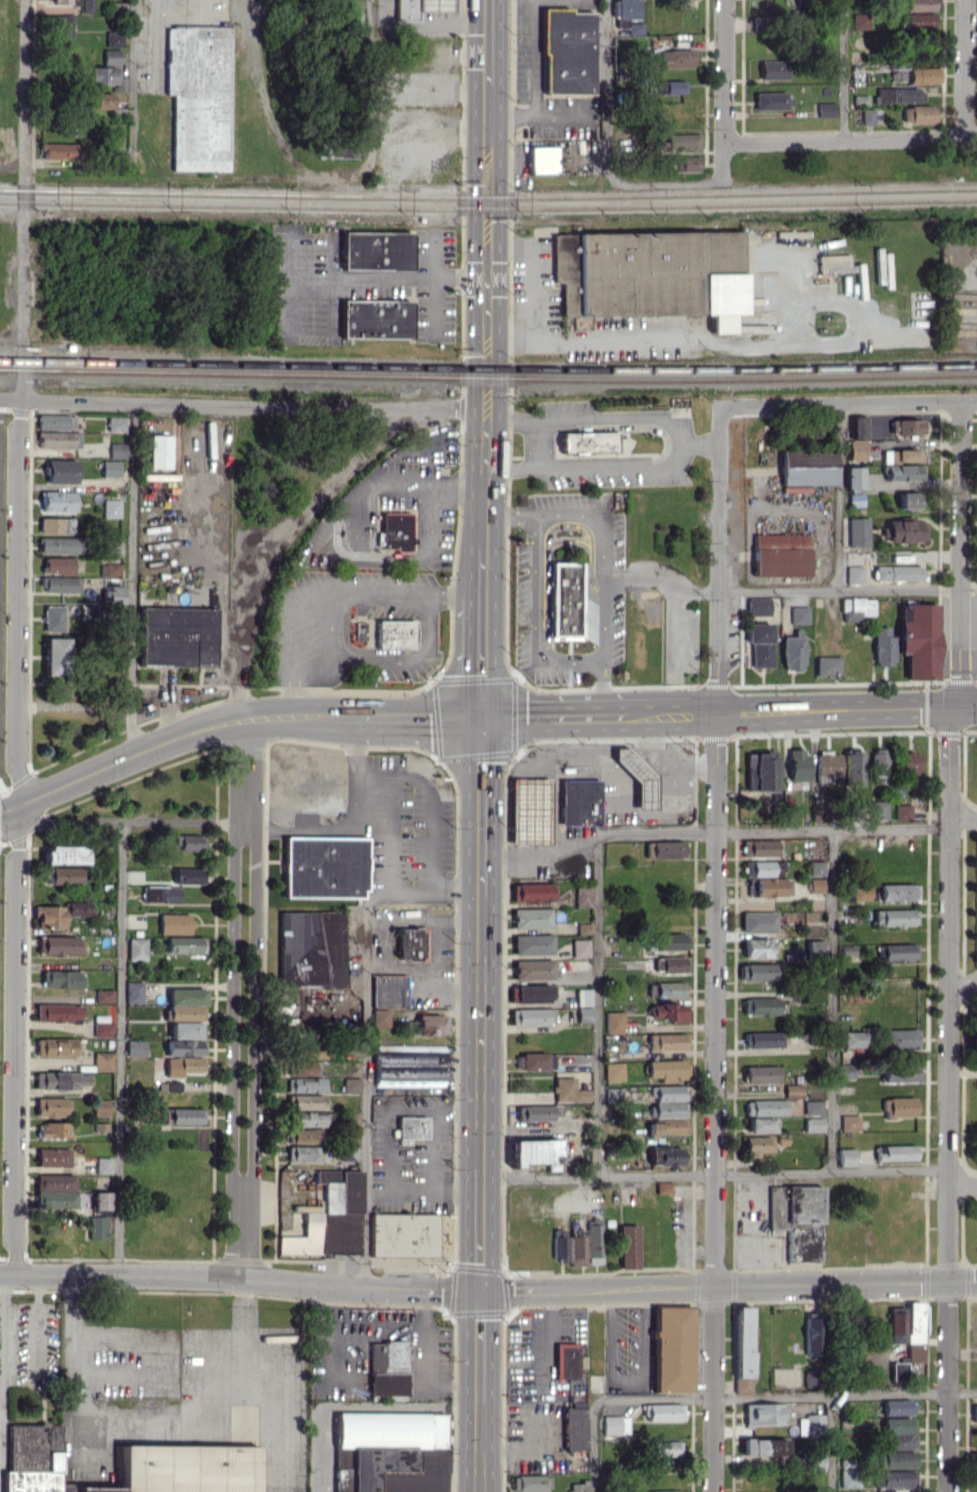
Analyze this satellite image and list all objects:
building: (63, 1)
building: (921, 5)
building: (421, 8)
building: (626, 9)
building: (921, 20)
building: (861, 21)
road: (426, 28)
building: (63, 31)
road: (490, 33)
building: (116, 39)
building: (569, 52)
building: (114, 57)
road: (536, 57)
building: (677, 58)
road: (968, 68)
building: (774, 69)
road: (846, 69)
building: (899, 74)
building: (105, 75)
building: (925, 75)
road: (135, 80)
building: (672, 87)
road: (728, 87)
building: (900, 95)
building: (201, 96)
building: (772, 100)
building: (103, 101)
building: (827, 109)
building: (921, 113)
road: (539, 114)
building: (869, 116)
road: (853, 138)
building: (683, 142)
road: (608, 147)
building: (340, 150)
building: (60, 151)
building: (543, 159)
building: (691, 163)
railway: (488, 196)
railway: (488, 208)
road: (489, 237)
building: (378, 250)
building: (836, 263)
road: (531, 269)
building: (651, 274)
road: (386, 281)
building: (377, 319)
road: (649, 338)
railway: (488, 368)
railway: (488, 379)
road: (849, 403)
road: (244, 404)
road: (592, 416)
building: (58, 422)
building: (117, 423)
building: (860, 426)
building: (908, 427)
building: (60, 439)
road: (533, 441)
building: (586, 442)
road: (701, 442)
building: (119, 450)
building: (161, 451)
building: (903, 455)
road: (613, 464)
road: (510, 466)
building: (810, 466)
building: (112, 468)
building: (62, 471)
building: (905, 472)
road: (487, 476)
building: (855, 477)
road: (458, 481)
road: (841, 497)
building: (910, 500)
building: (59, 501)
building: (113, 508)
building: (58, 525)
building: (396, 531)
building: (906, 531)
building: (860, 532)
road: (963, 540)
road: (275, 542)
building: (62, 545)
building: (114, 547)
road: (368, 553)
building: (782, 554)
road: (602, 556)
building: (60, 565)
road: (484, 568)
building: (111, 569)
building: (898, 573)
building: (856, 574)
road: (662, 578)
road: (133, 579)
building: (63, 584)
road: (330, 590)
road: (848, 590)
building: (113, 595)
building: (566, 599)
building: (760, 606)
building: (858, 608)
road: (538, 615)
building: (800, 615)
building: (54, 618)
building: (396, 633)
road: (20, 636)
building: (179, 637)
building: (920, 640)
building: (761, 644)
building: (884, 646)
building: (794, 651)
building: (57, 656)
road: (482, 656)
building: (830, 666)
road: (959, 693)
road: (966, 706)
traffic signals: (956, 707)
road: (812, 709)
road: (645, 713)
road: (265, 716)
road: (551, 716)
road: (318, 717)
road: (351, 717)
road: (420, 718)
traffic signals: (481, 719)
road: (950, 746)
road: (360, 757)
road: (118, 763)
road: (678, 763)
building: (799, 764)
building: (911, 765)
building: (829, 766)
building: (880, 766)
building: (854, 767)
building: (761, 771)
building: (639, 776)
road: (554, 778)
road: (405, 779)
road: (962, 801)
building: (581, 802)
road: (481, 806)
building: (881, 809)
building: (530, 810)
building: (819, 812)
building: (905, 812)
road: (182, 824)
road: (313, 827)
road: (775, 832)
building: (191, 842)
building: (760, 848)
building: (665, 849)
building: (66, 854)
building: (326, 866)
building: (818, 867)
building: (764, 868)
building: (63, 875)
building: (188, 875)
building: (817, 885)
building: (768, 886)
building: (534, 892)
building: (862, 892)
building: (900, 892)
building: (162, 894)
building: (584, 896)
road: (426, 902)
building: (79, 908)
building: (50, 916)
building: (897, 917)
building: (532, 918)
building: (759, 922)
building: (176, 924)
building: (669, 941)
building: (412, 943)
building: (185, 944)
building: (534, 944)
building: (59, 945)
building: (758, 947)
building: (581, 948)
road: (718, 948)
building: (816, 948)
building: (138, 949)
building: (313, 949)
building: (900, 952)
road: (236, 955)
road: (257, 955)
building: (674, 964)
building: (534, 969)
building: (758, 971)
building: (62, 979)
building: (668, 989)
road: (963, 989)
building: (135, 992)
building: (531, 994)
building: (105, 995)
building: (388, 996)
building: (584, 997)
road: (833, 1001)
building: (187, 1003)
road: (597, 1004)
building: (762, 1006)
building: (668, 1011)
building: (59, 1012)
building: (585, 1014)
building: (535, 1016)
road: (481, 1022)
building: (615, 1022)
building: (432, 1024)
building: (103, 1026)
building: (187, 1030)
road: (950, 1034)
building: (903, 1038)
building: (764, 1039)
building: (855, 1039)
building: (668, 1041)
building: (974, 1044)
building: (56, 1047)
road: (122, 1047)
building: (136, 1047)
building: (185, 1057)
building: (104, 1061)
building: (538, 1061)
building: (410, 1065)
building: (305, 1068)
building: (667, 1069)
building: (614, 1071)
building: (848, 1071)
building: (763, 1074)
building: (902, 1074)
building: (61, 1080)
building: (306, 1085)
building: (353, 1085)
building: (173, 1086)
building: (569, 1090)
building: (794, 1091)
road: (369, 1095)
building: (308, 1101)
building: (669, 1101)
building: (52, 1107)
building: (766, 1107)
building: (814, 1107)
building: (900, 1107)
building: (537, 1112)
building: (102, 1114)
building: (182, 1116)
building: (308, 1119)
building: (851, 1123)
building: (761, 1124)
building: (814, 1124)
building: (413, 1127)
building: (668, 1127)
building: (54, 1129)
building: (305, 1136)
building: (758, 1145)
building: (536, 1152)
building: (303, 1153)
building: (896, 1153)
building: (350, 1154)
building: (667, 1155)
building: (54, 1157)
building: (847, 1157)
building: (104, 1165)
road: (716, 1174)
road: (963, 1184)
building: (664, 1187)
building: (102, 1200)
road: (758, 1214)
building: (331, 1217)
building: (799, 1219)
road: (482, 1220)
building: (99, 1227)
road: (243, 1234)
building: (404, 1234)
building: (595, 1238)
building: (560, 1245)
building: (630, 1246)
building: (579, 1247)
parking lot: (758, 1256)
road: (59, 1273)
road: (300, 1282)
road: (963, 1282)
road: (715, 1287)
traffic signals: (482, 1291)
road: (38, 1324)
building: (897, 1324)
building: (916, 1332)
building: (813, 1333)
road: (482, 1347)
building: (673, 1349)
building: (744, 1349)
road: (1, 1351)
building: (566, 1360)
building: (388, 1367)
building: (899, 1371)
building: (812, 1379)
road: (949, 1387)
road: (786, 1397)
building: (897, 1407)
building: (763, 1413)
building: (974, 1413)
road: (158, 1422)
building: (616, 1424)
building: (811, 1424)
building: (574, 1428)
building: (899, 1434)
road: (832, 1444)
building: (381, 1445)
road: (481, 1447)
road: (595, 1447)
building: (765, 1447)
building: (666, 1448)
building: (32, 1459)
building: (897, 1459)
building: (816, 1461)
building: (182, 1471)
building: (849, 1473)
building: (894, 1480)
building: (531, 1483)
building: (579, 1486)
building: (662, 1491)

